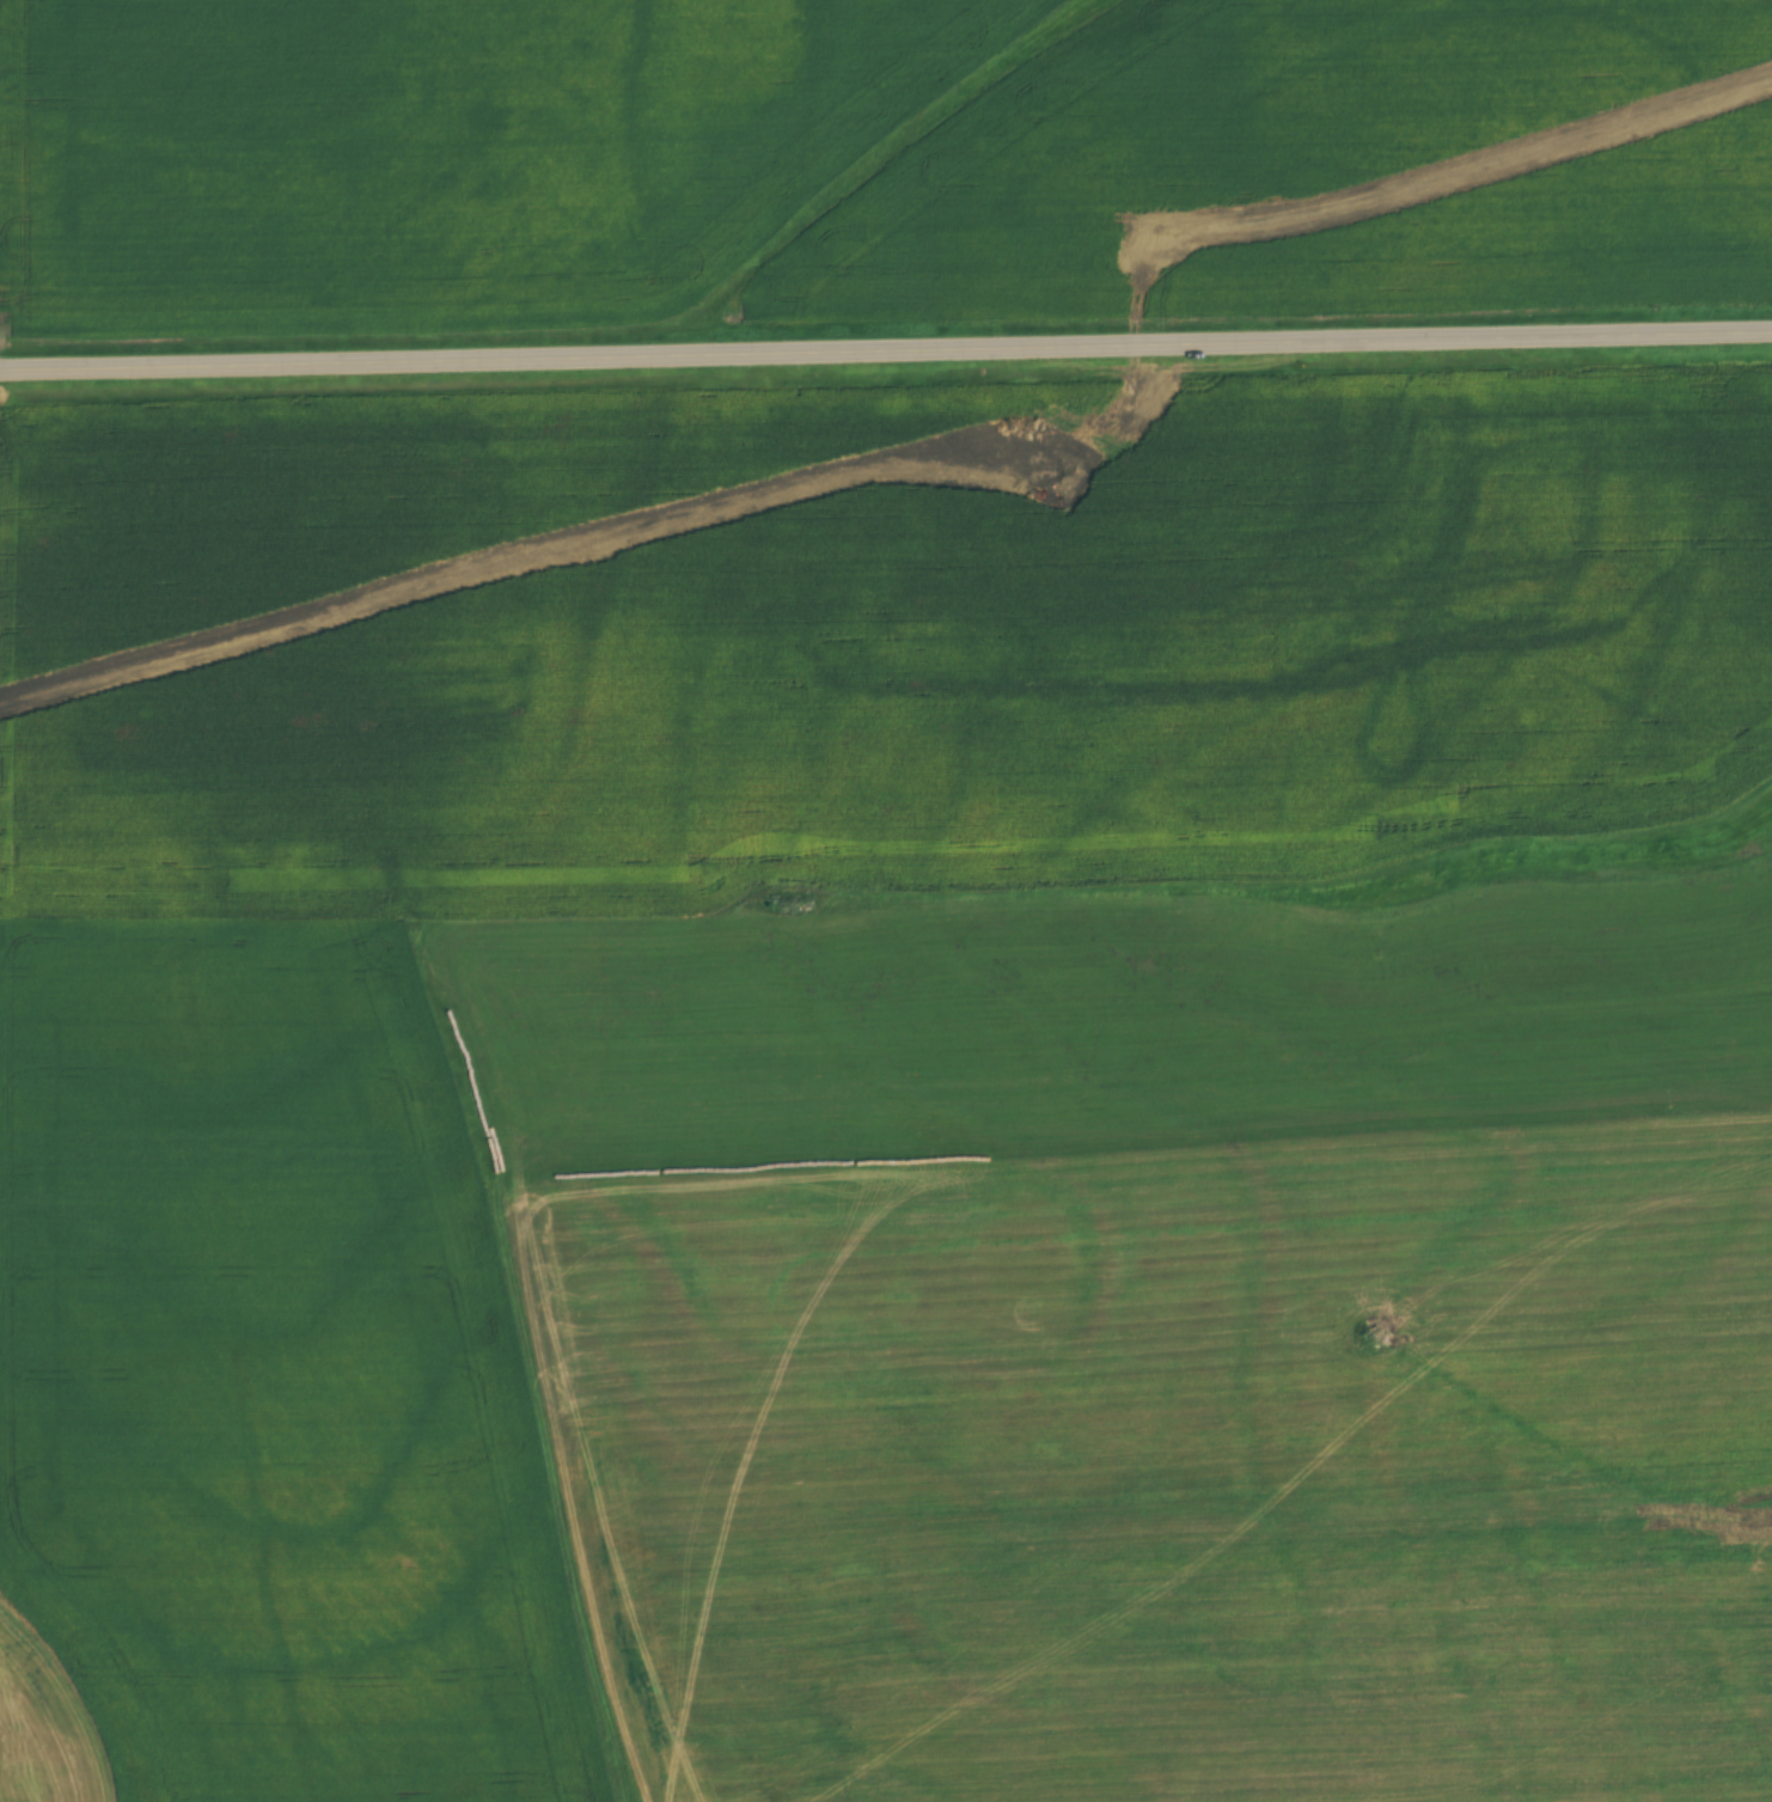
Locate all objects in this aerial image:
road: (885, 338)

